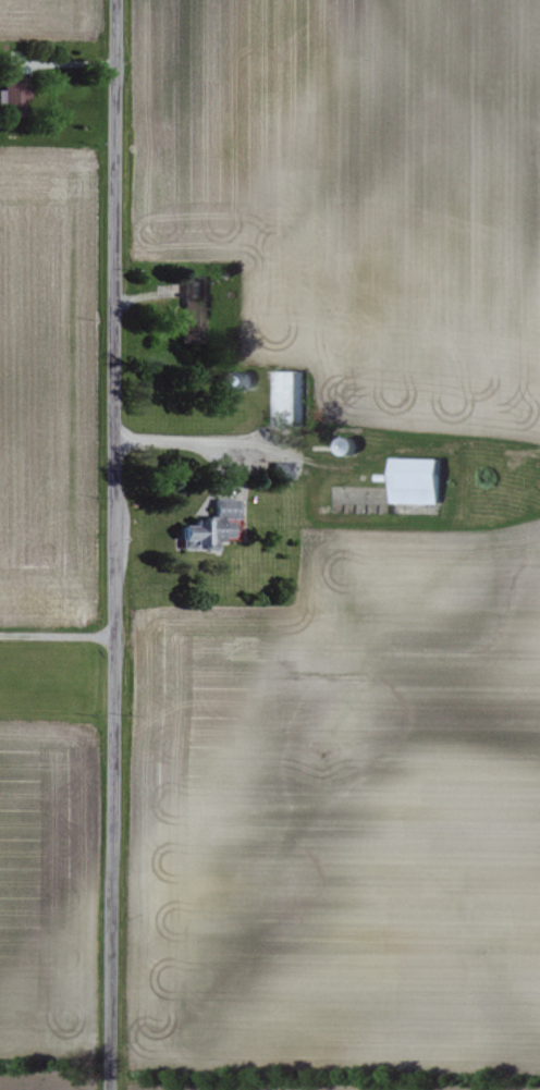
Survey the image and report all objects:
building: (15, 91)
building: (191, 334)
road: (186, 442)
building: (420, 482)
road: (116, 544)
road: (59, 635)

